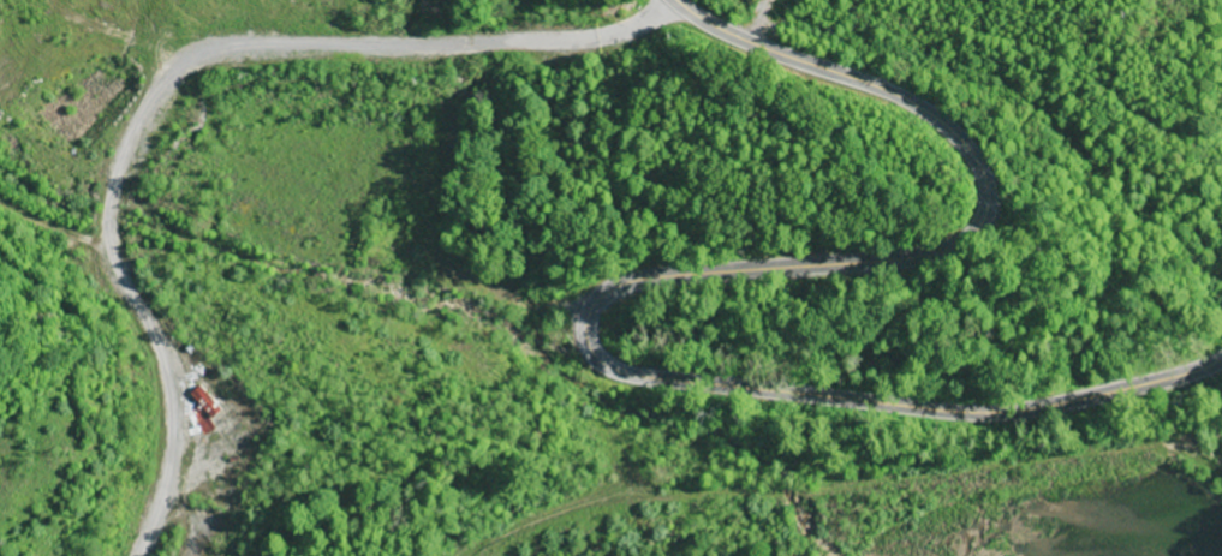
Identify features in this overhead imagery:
road: (644, 276)
quarry: (179, 503)

